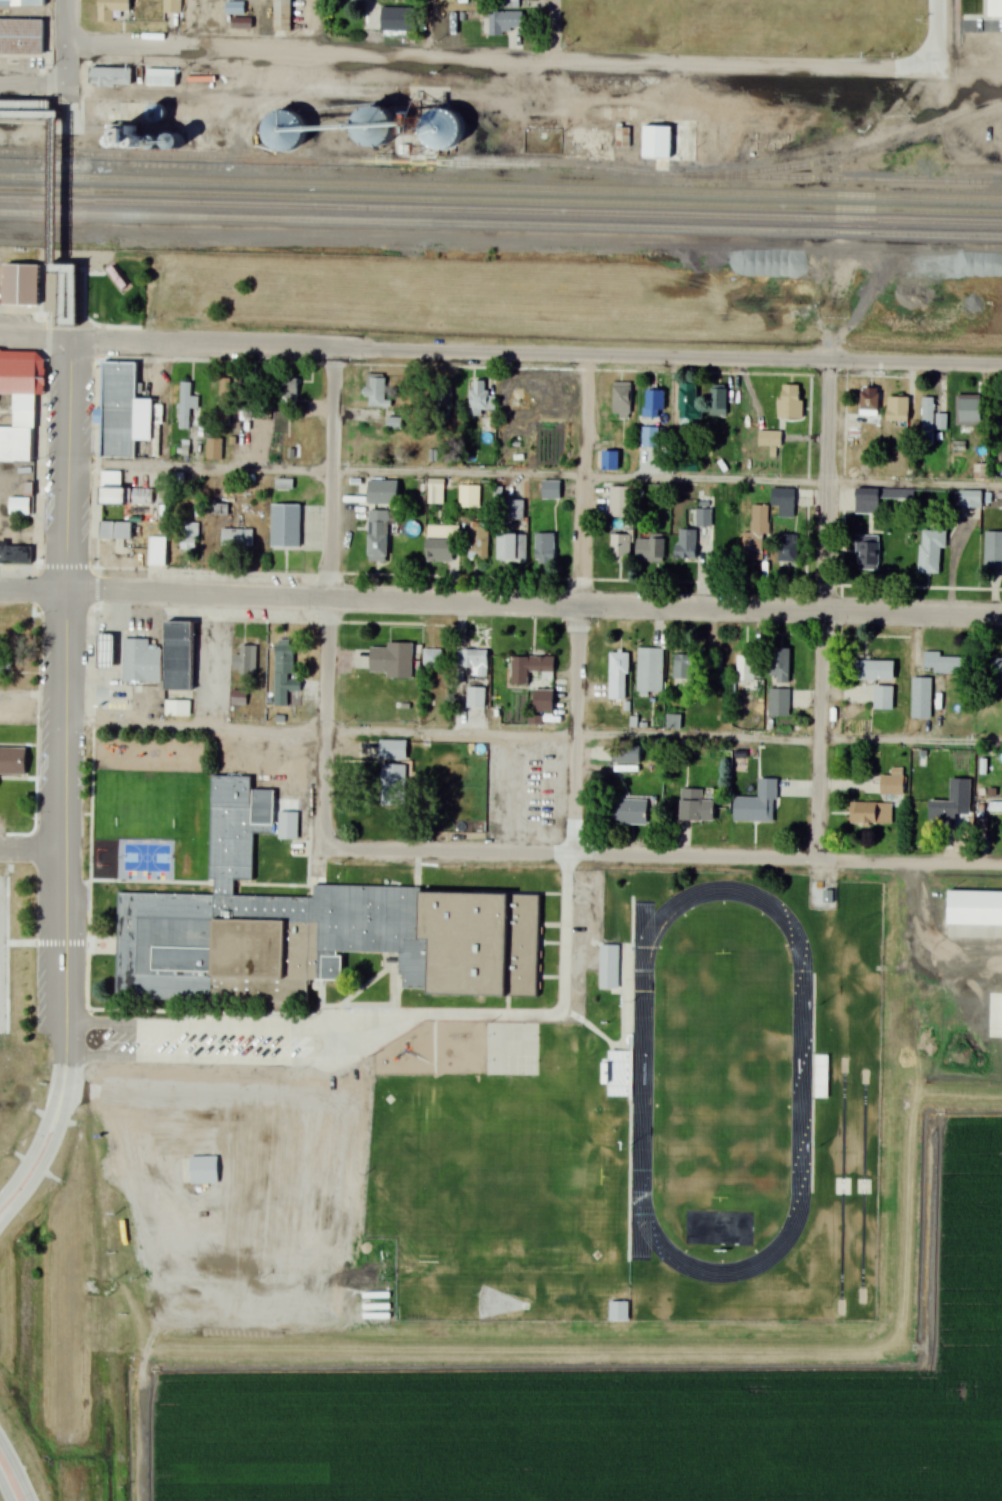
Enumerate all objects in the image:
building: (21, 3)
building: (510, 4)
building: (171, 6)
building: (993, 7)
building: (234, 8)
building: (111, 10)
building: (278, 17)
building: (398, 20)
road: (190, 24)
building: (504, 24)
road: (305, 26)
road: (434, 28)
road: (557, 30)
road: (937, 31)
road: (66, 37)
building: (21, 38)
road: (497, 59)
road: (244, 70)
road: (33, 77)
building: (110, 77)
building: (160, 78)
road: (41, 87)
road: (22, 93)
road: (387, 94)
road: (21, 95)
road: (151, 98)
road: (31, 112)
building: (160, 113)
silo: (160, 113)
building: (379, 128)
silo: (379, 128)
building: (445, 130)
silo: (445, 130)
building: (287, 131)
silo: (287, 131)
building: (621, 135)
building: (225, 140)
silo: (225, 140)
building: (200, 141)
silo: (200, 141)
building: (178, 142)
silo: (178, 142)
building: (160, 143)
silo: (160, 143)
building: (657, 145)
road: (51, 163)
railway: (506, 164)
railway: (852, 177)
railway: (501, 187)
railway: (500, 200)
railway: (500, 210)
railway: (501, 224)
road: (923, 249)
road: (47, 290)
building: (26, 291)
road: (834, 304)
road: (65, 310)
road: (33, 334)
road: (534, 354)
building: (287, 389)
building: (374, 390)
building: (443, 397)
building: (478, 399)
building: (621, 399)
building: (717, 401)
building: (789, 401)
building: (868, 401)
building: (226, 402)
building: (687, 402)
building: (652, 404)
building: (19, 405)
building: (187, 407)
building: (897, 409)
building: (969, 409)
building: (127, 413)
building: (927, 420)
building: (942, 422)
building: (649, 436)
building: (768, 438)
building: (213, 449)
building: (609, 461)
building: (687, 465)
road: (67, 466)
road: (334, 474)
road: (534, 475)
building: (283, 484)
building: (112, 489)
building: (550, 489)
building: (382, 492)
building: (435, 492)
building: (468, 496)
building: (876, 498)
building: (969, 498)
building: (619, 500)
building: (783, 501)
building: (19, 505)
building: (218, 509)
building: (513, 510)
building: (285, 526)
building: (755, 534)
building: (116, 535)
building: (377, 535)
building: (188, 536)
building: (235, 538)
building: (477, 543)
building: (685, 543)
building: (440, 544)
building: (620, 547)
building: (511, 548)
building: (543, 548)
building: (786, 548)
building: (649, 549)
building: (157, 551)
building: (930, 551)
building: (866, 553)
building: (15, 554)
building: (993, 558)
road: (33, 591)
road: (534, 602)
road: (580, 605)
road: (823, 610)
building: (431, 658)
building: (467, 659)
building: (391, 660)
building: (140, 661)
building: (244, 662)
building: (942, 663)
building: (778, 666)
building: (693, 667)
building: (178, 669)
building: (532, 670)
building: (873, 670)
building: (649, 671)
building: (997, 671)
building: (284, 672)
building: (744, 674)
building: (617, 676)
road: (33, 697)
building: (882, 697)
building: (238, 698)
building: (921, 698)
building: (542, 700)
building: (778, 702)
building: (672, 722)
road: (326, 724)
road: (533, 734)
building: (393, 750)
building: (624, 754)
building: (13, 761)
building: (394, 779)
building: (891, 782)
building: (756, 803)
building: (694, 806)
building: (995, 806)
building: (626, 811)
building: (870, 812)
building: (942, 814)
building: (287, 825)
road: (66, 843)
road: (33, 847)
road: (661, 856)
building: (977, 915)
building: (312, 928)
building: (607, 966)
building: (511, 1049)
park: (721, 1070)
building: (618, 1073)
building: (819, 1076)
park: (719, 1078)
road: (33, 1145)
road: (38, 1157)
building: (204, 1170)
building: (618, 1311)
road: (17, 1468)
road: (5, 1488)

